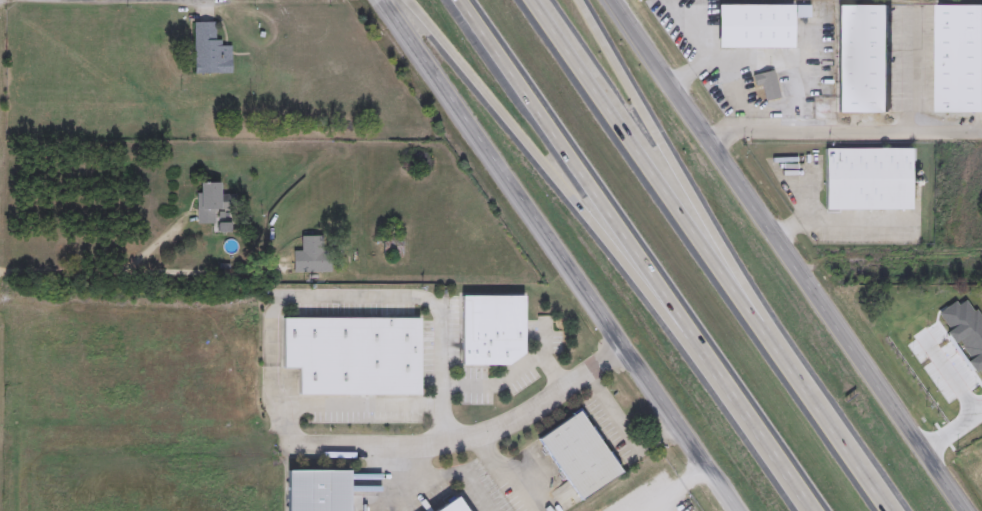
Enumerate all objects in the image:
building: (751, 26)
road: (812, 35)
building: (208, 50)
road: (640, 53)
building: (860, 59)
building: (957, 59)
road: (752, 60)
road: (913, 75)
building: (764, 84)
road: (693, 127)
road: (551, 131)
road: (842, 132)
road: (522, 134)
road: (655, 175)
road: (679, 175)
building: (865, 179)
building: (208, 203)
road: (821, 222)
building: (310, 255)
road: (562, 255)
road: (135, 274)
road: (396, 297)
road: (836, 327)
building: (488, 329)
road: (544, 340)
building: (348, 356)
road: (948, 374)
road: (727, 387)
road: (811, 399)
road: (360, 404)
road: (610, 408)
road: (444, 413)
road: (951, 431)
road: (471, 437)
building: (574, 455)
road: (506, 472)
road: (444, 477)
road: (868, 479)
building: (313, 491)
building: (448, 506)

